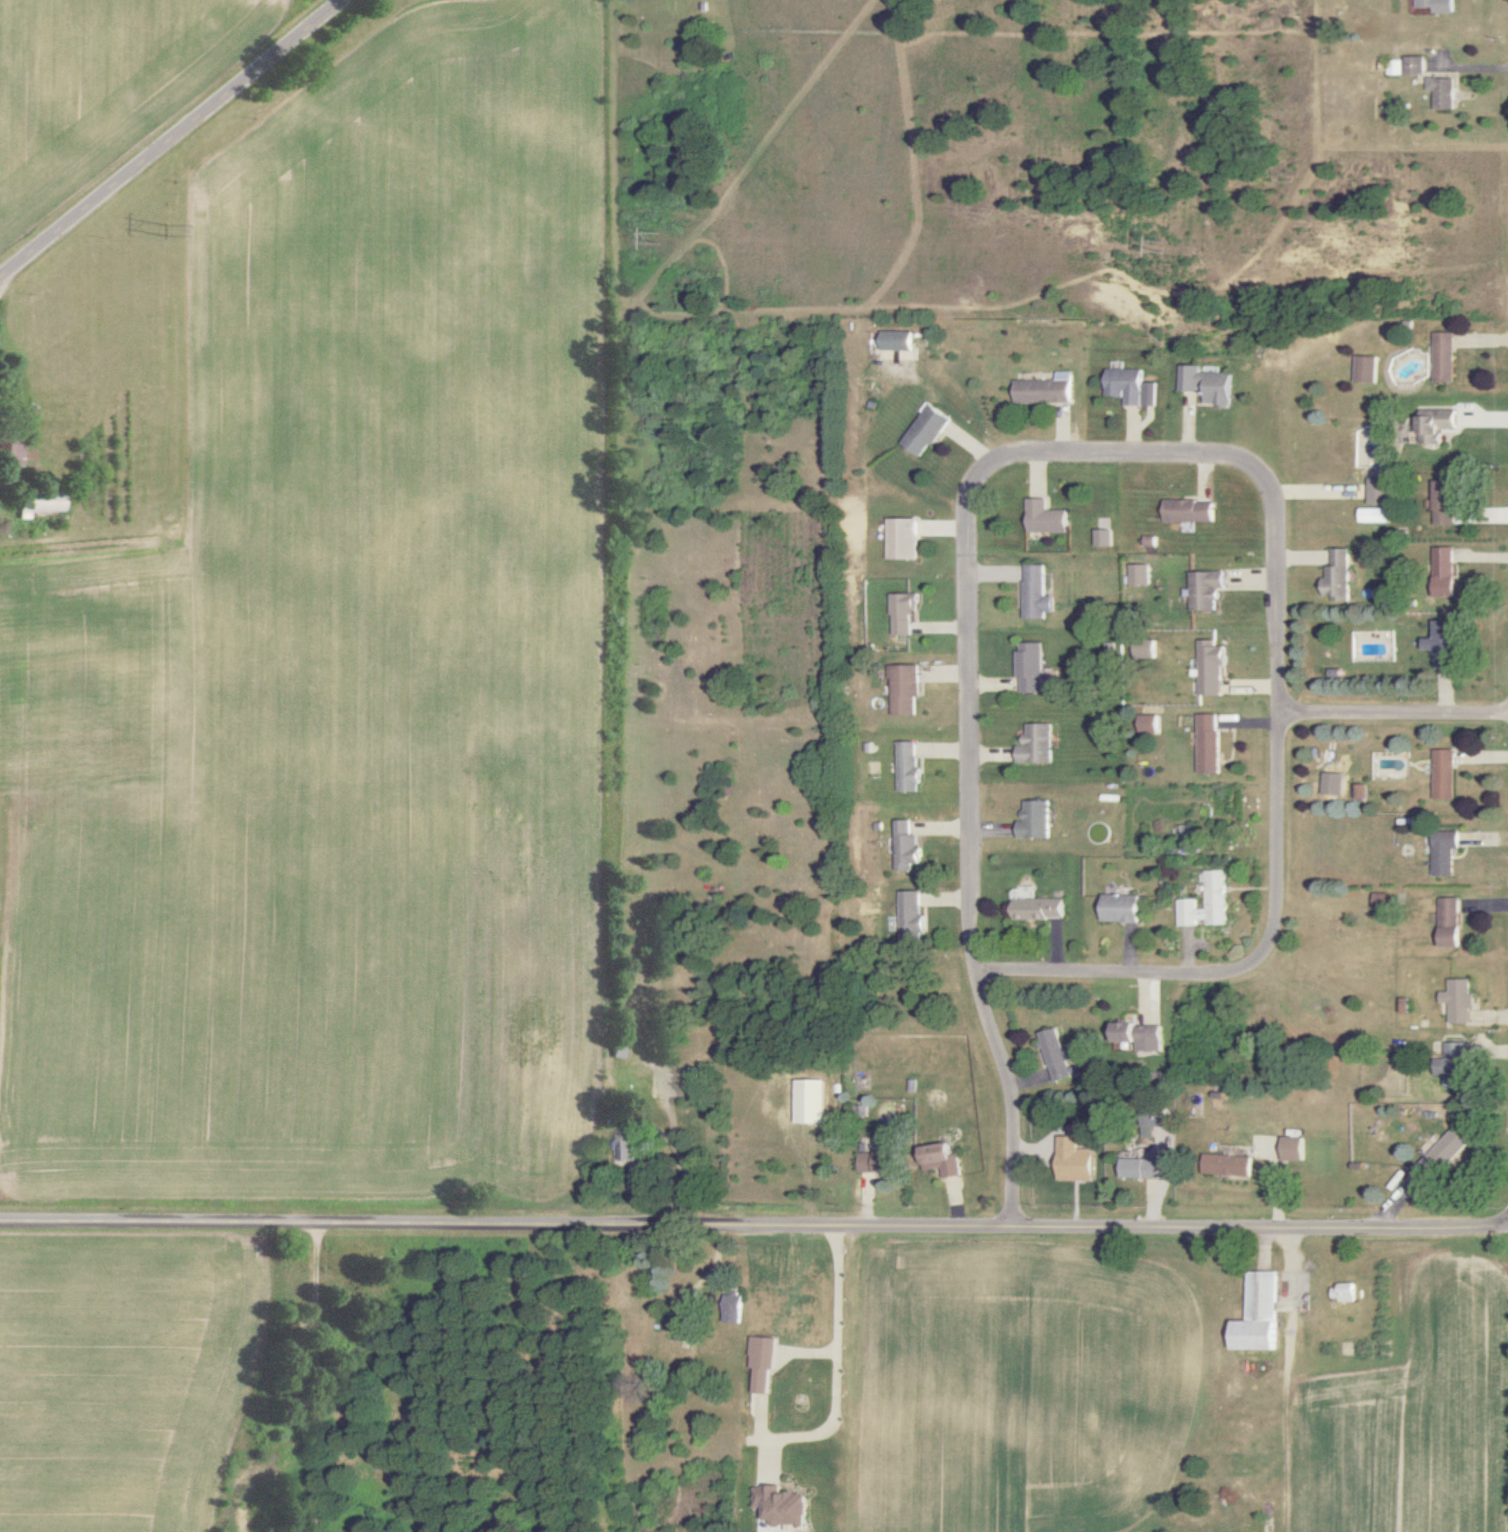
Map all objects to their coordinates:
building: (1431, 5)
building: (1408, 65)
building: (1436, 92)
road: (172, 140)
power tower: (169, 239)
power tower: (666, 240)
power tower: (1166, 248)
road: (2, 282)
building: (897, 340)
building: (1440, 357)
building: (1362, 369)
building: (1205, 385)
building: (1131, 387)
building: (1046, 390)
building: (1433, 425)
building: (928, 431)
building: (11, 450)
building: (1376, 490)
building: (1441, 503)
building: (37, 505)
building: (1188, 511)
building: (1372, 515)
building: (1046, 517)
building: (904, 538)
building: (1104, 538)
building: (1442, 571)
building: (1138, 575)
building: (1336, 576)
building: (1204, 590)
building: (1036, 593)
building: (904, 612)
building: (1438, 644)
building: (1143, 649)
building: (1029, 667)
building: (1208, 667)
building: (903, 689)
road: (1278, 714)
road: (1393, 715)
building: (1146, 723)
building: (1205, 743)
building: (1035, 744)
building: (906, 766)
building: (1442, 774)
building: (1330, 784)
building: (1034, 820)
building: (903, 846)
road: (969, 852)
building: (1443, 852)
building: (1205, 902)
building: (1039, 909)
building: (1121, 909)
building: (907, 917)
building: (1450, 923)
building: (1458, 1000)
building: (1140, 1036)
building: (1054, 1055)
building: (1450, 1061)
building: (805, 1102)
building: (633, 1147)
building: (1292, 1149)
building: (1443, 1154)
road: (679, 1155)
building: (940, 1160)
building: (1073, 1161)
building: (871, 1163)
building: (1226, 1165)
building: (1138, 1168)
road: (753, 1227)
building: (1343, 1293)
building: (729, 1309)
building: (1259, 1314)
road: (834, 1355)
building: (760, 1362)
building: (783, 1507)

